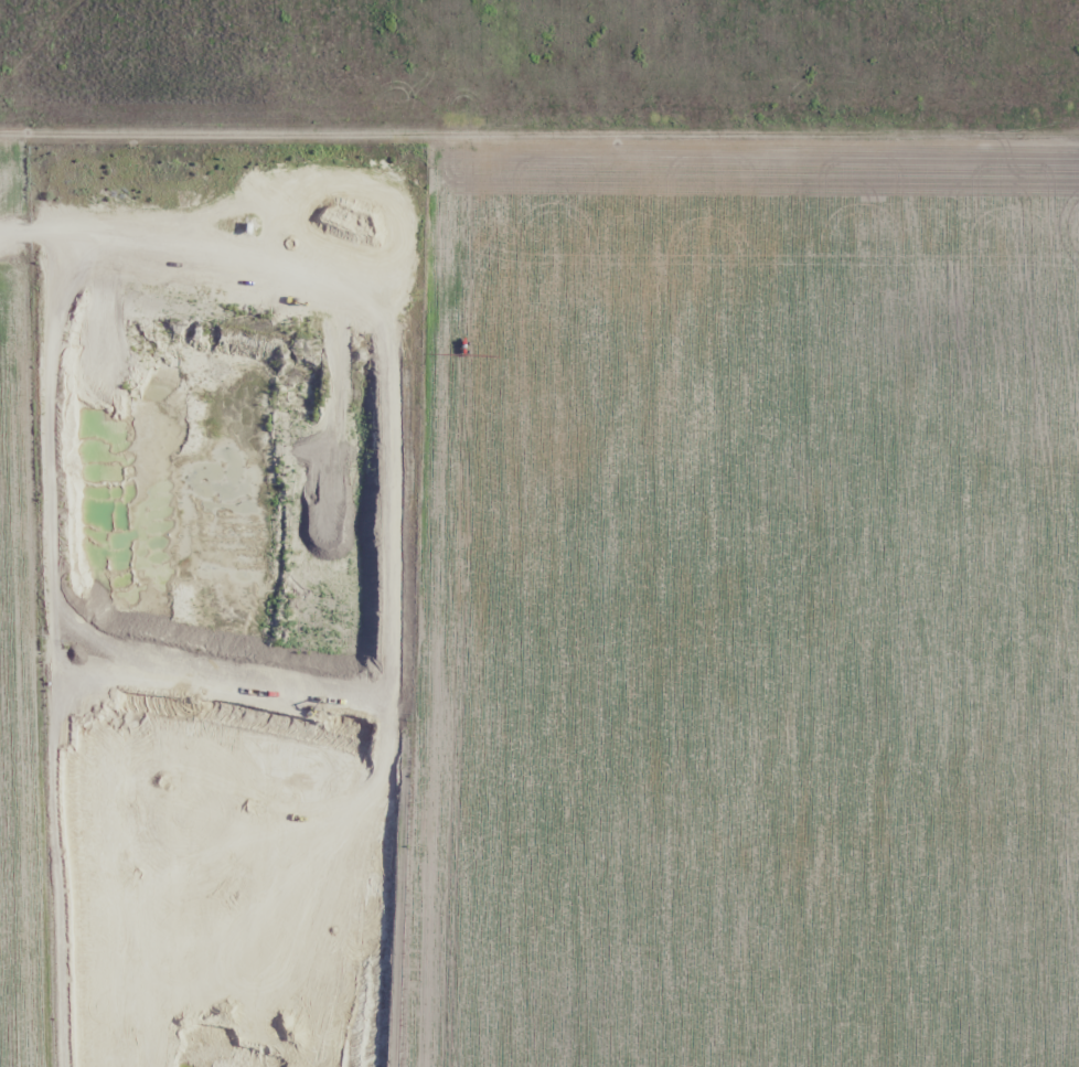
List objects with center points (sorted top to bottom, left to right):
crop: (602, 559)

